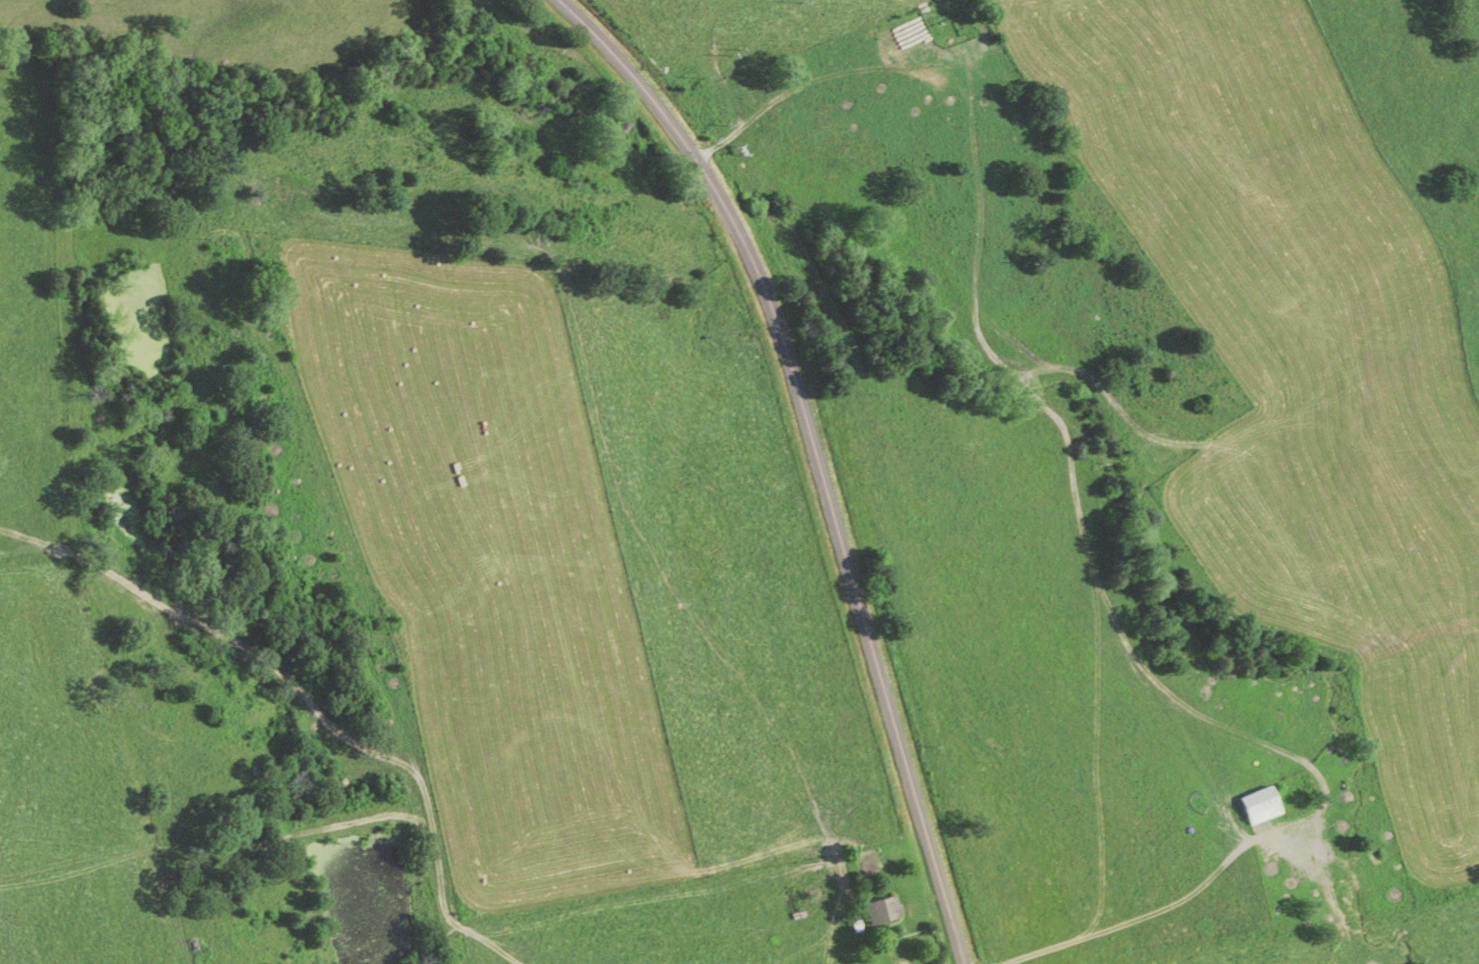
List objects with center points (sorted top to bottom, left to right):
road: (818, 454)
building: (1256, 808)
building: (880, 911)

